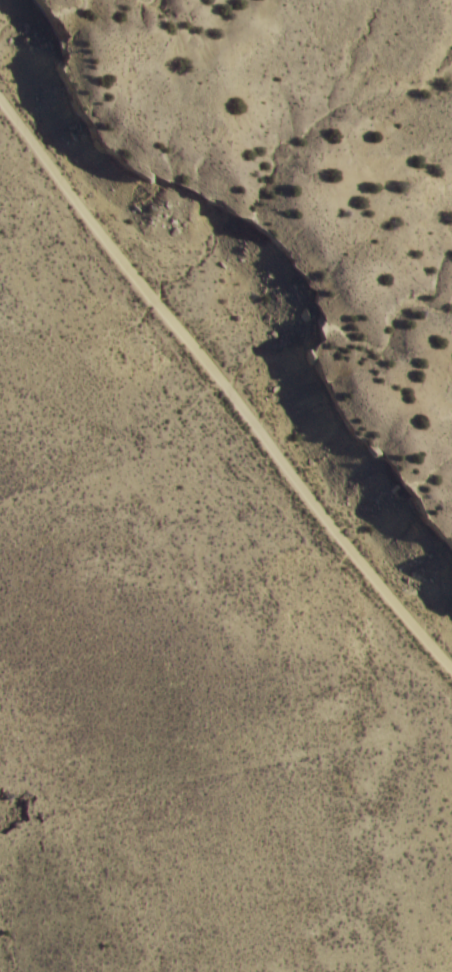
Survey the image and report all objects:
road: (217, 379)

